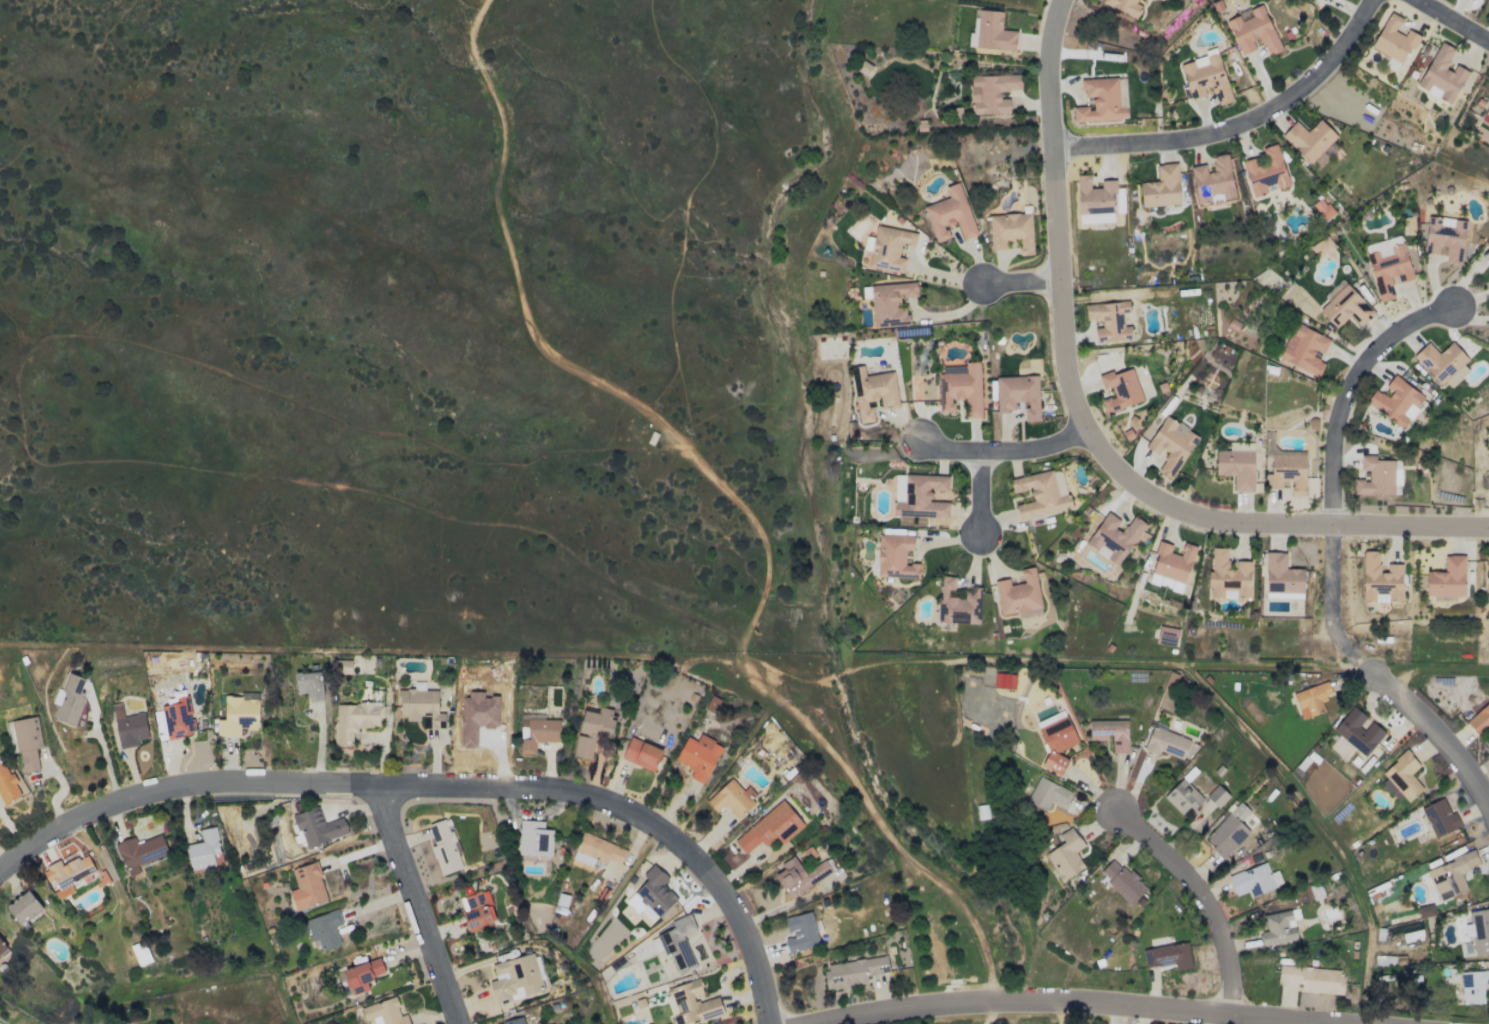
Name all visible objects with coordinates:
building: (1124, 6)
road: (1451, 21)
building: (1253, 30)
building: (990, 31)
building: (1394, 39)
road: (1050, 73)
building: (1442, 74)
building: (1206, 78)
building: (991, 92)
building: (1100, 101)
building: (1486, 116)
road: (1239, 127)
building: (1309, 139)
building: (1265, 171)
building: (1213, 180)
building: (1161, 187)
building: (1095, 200)
building: (1322, 208)
building: (950, 214)
road: (1057, 215)
building: (1011, 231)
building: (1445, 238)
building: (889, 247)
building: (1322, 247)
building: (1387, 265)
road: (1022, 283)
building: (888, 303)
building: (1345, 305)
road: (948, 318)
building: (1109, 321)
building: (1304, 349)
road: (564, 363)
building: (1443, 363)
building: (961, 388)
building: (1120, 389)
road: (1352, 391)
building: (874, 392)
building: (1018, 394)
building: (1396, 401)
building: (1171, 445)
road: (997, 451)
building: (1237, 465)
building: (1285, 467)
building: (1377, 477)
building: (899, 487)
building: (1041, 493)
road: (984, 494)
building: (922, 496)
road: (1195, 515)
building: (1115, 536)
building: (895, 556)
building: (1173, 562)
building: (1488, 572)
building: (1281, 575)
building: (1228, 576)
building: (1447, 578)
building: (1380, 579)
building: (1018, 593)
building: (957, 603)
building: (1167, 635)
building: (1004, 680)
road: (1383, 680)
building: (309, 685)
building: (1311, 699)
building: (70, 700)
building: (711, 703)
building: (420, 705)
building: (480, 711)
building: (238, 715)
building: (355, 719)
building: (1479, 720)
building: (128, 727)
building: (592, 730)
building: (536, 731)
building: (1358, 731)
building: (1110, 733)
building: (27, 742)
building: (1166, 742)
building: (1056, 743)
road: (104, 752)
building: (641, 754)
building: (698, 756)
building: (1401, 776)
building: (7, 786)
road: (178, 786)
building: (1047, 793)
building: (1183, 796)
building: (1217, 796)
building: (732, 798)
road: (633, 814)
building: (1440, 818)
road: (874, 819)
building: (318, 827)
building: (770, 827)
building: (1231, 829)
building: (534, 838)
building: (444, 847)
building: (203, 850)
building: (597, 850)
building: (140, 852)
building: (1066, 855)
road: (4, 856)
building: (68, 874)
building: (1451, 875)
building: (1122, 880)
building: (1254, 880)
building: (307, 886)
building: (654, 891)
road: (1201, 896)
road: (418, 903)
building: (23, 907)
building: (477, 910)
building: (1278, 928)
building: (325, 929)
building: (1478, 931)
building: (800, 932)
building: (679, 944)
building: (2, 948)
building: (1167, 956)
building: (853, 971)
building: (362, 975)
building: (515, 978)
building: (1312, 979)
building: (1473, 986)
road: (1076, 1001)
building: (693, 1002)
building: (384, 1012)
building: (515, 1021)

